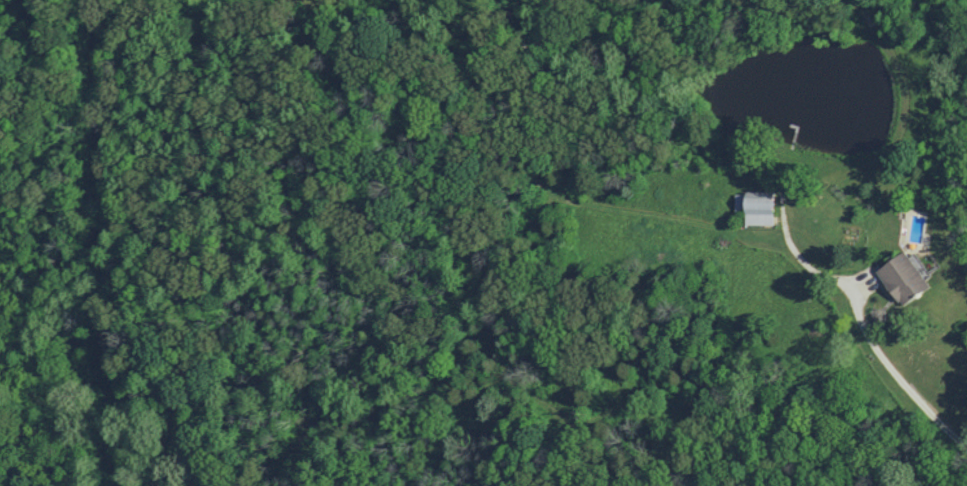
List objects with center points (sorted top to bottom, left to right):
building: (756, 208)
building: (904, 279)
road: (897, 376)

